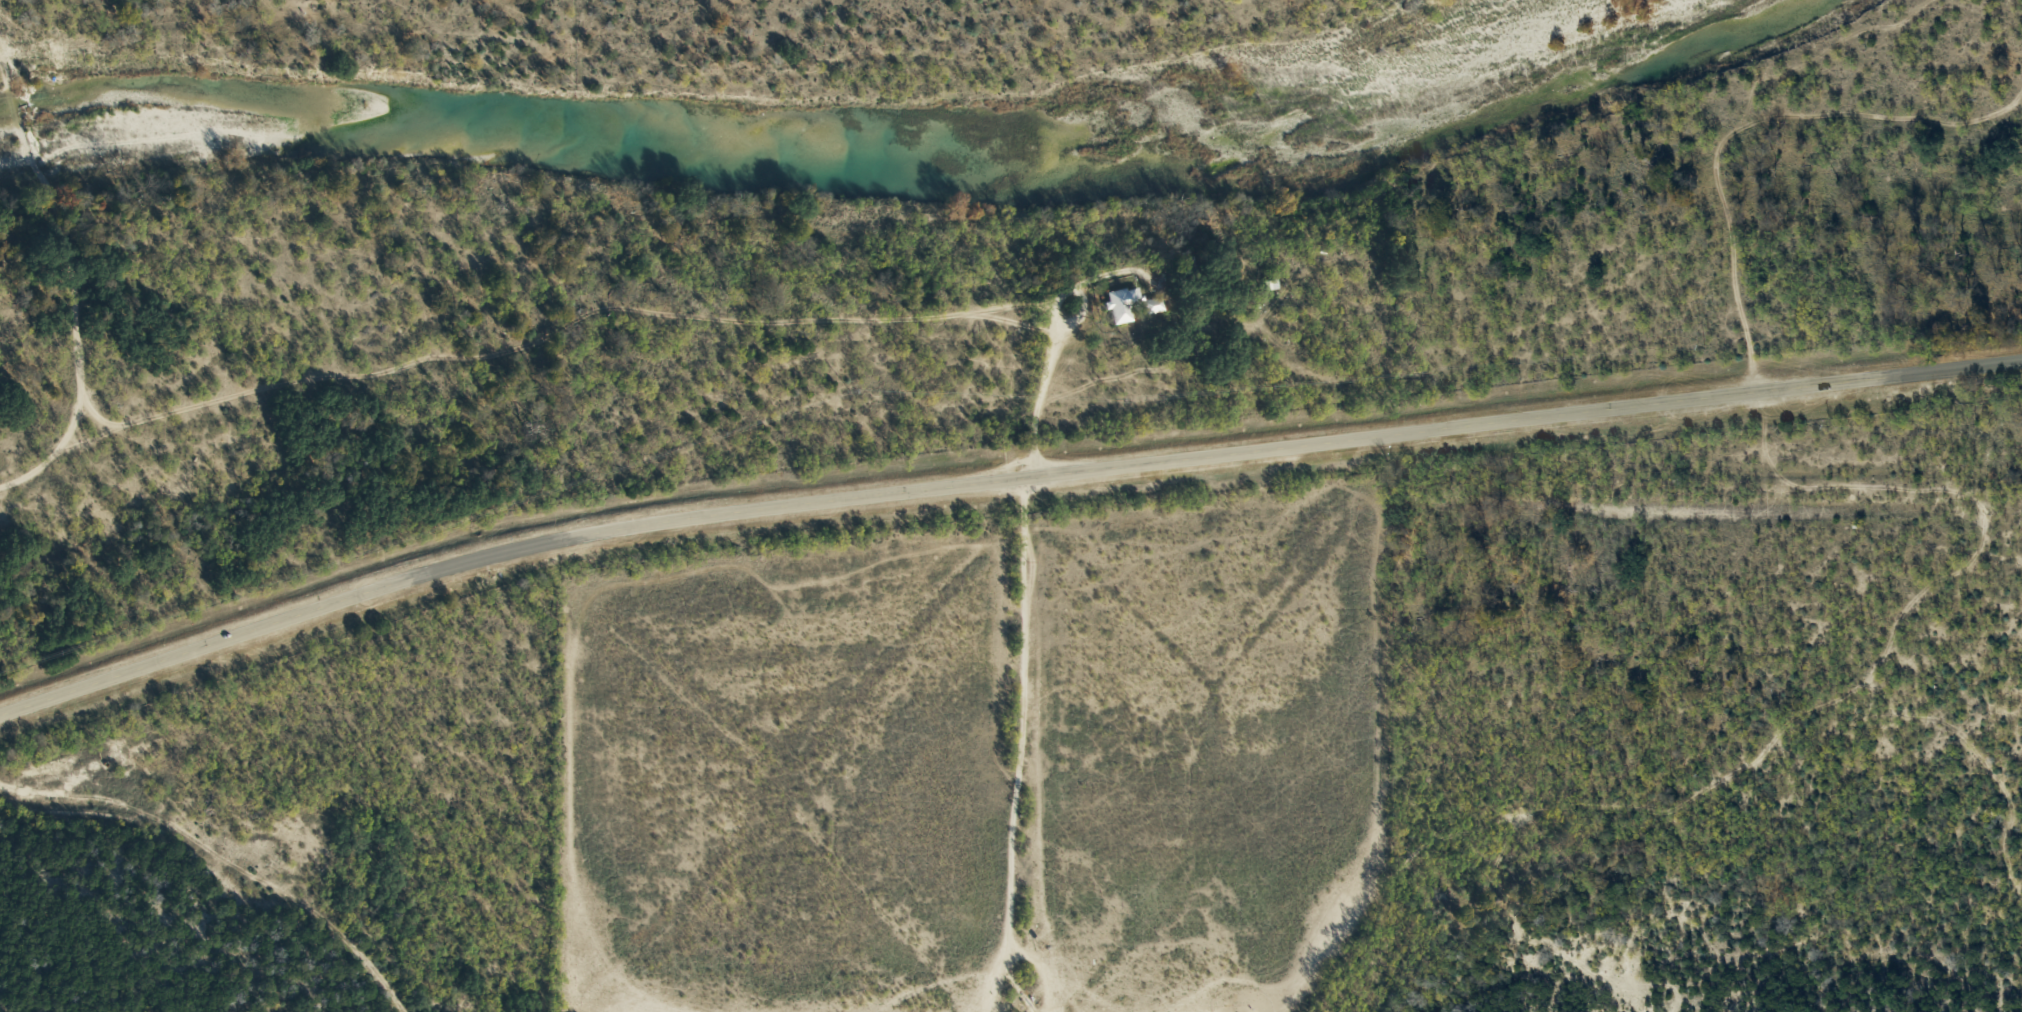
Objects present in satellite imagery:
road: (5, 25)
river: (837, 161)
road: (55, 240)
building: (1120, 306)
road: (849, 333)
road: (998, 488)
road: (1020, 669)

